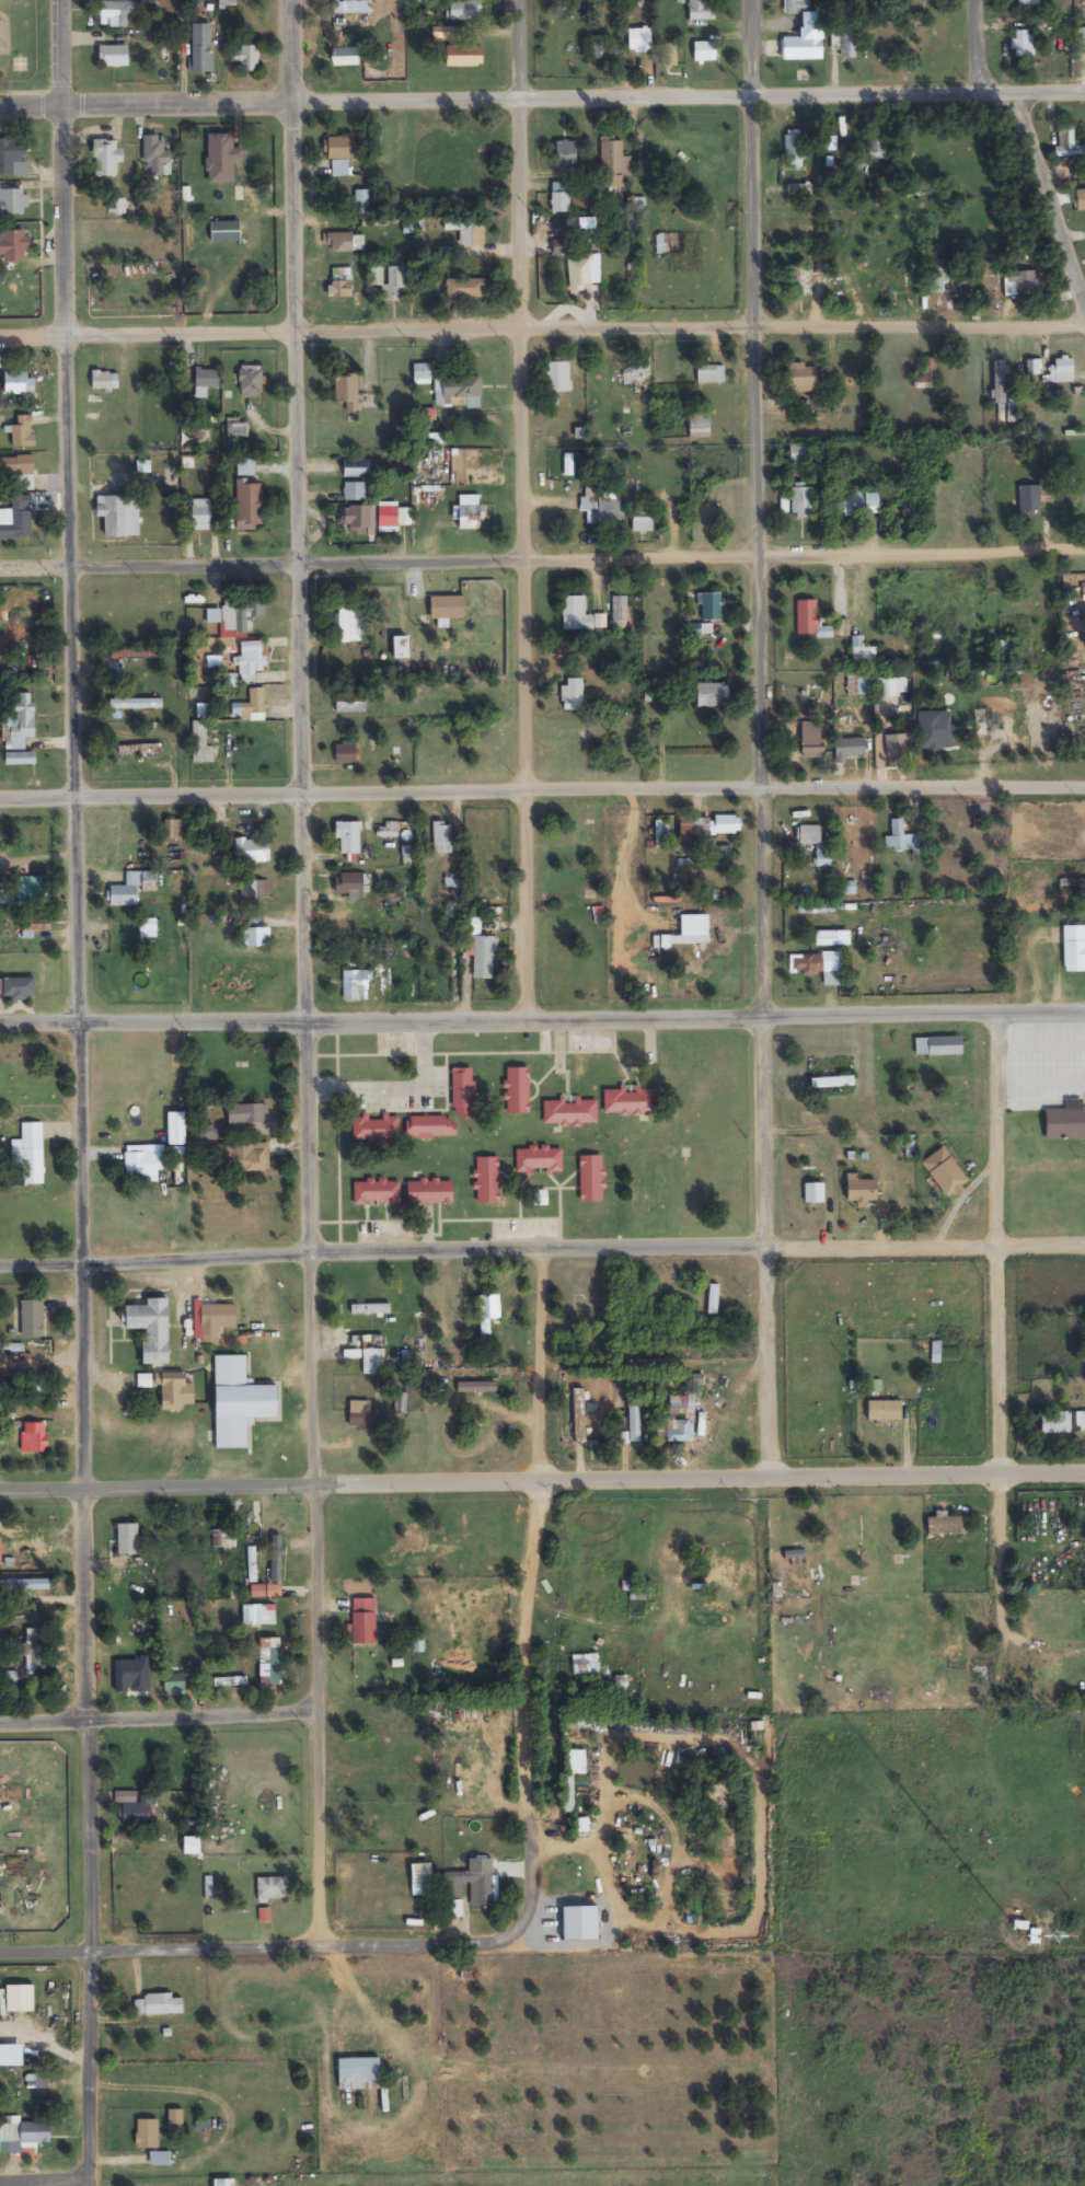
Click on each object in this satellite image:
building: (1029, 2)
building: (348, 7)
building: (464, 11)
building: (701, 11)
building: (114, 13)
building: (440, 33)
building: (804, 33)
building: (639, 41)
building: (1081, 43)
road: (976, 44)
building: (847, 45)
building: (1024, 45)
building: (598, 48)
building: (704, 53)
building: (113, 56)
building: (669, 57)
building: (346, 58)
building: (464, 58)
building: (201, 59)
building: (246, 59)
road: (542, 94)
building: (876, 143)
building: (1067, 143)
building: (794, 148)
building: (686, 150)
building: (566, 153)
building: (10, 155)
building: (155, 155)
building: (339, 155)
building: (106, 158)
building: (221, 159)
building: (612, 164)
road: (1049, 188)
building: (13, 201)
building: (360, 201)
building: (1081, 201)
building: (559, 203)
building: (117, 206)
building: (471, 236)
building: (16, 243)
building: (343, 243)
building: (561, 246)
building: (579, 273)
building: (376, 277)
building: (798, 280)
building: (1021, 282)
building: (340, 284)
building: (395, 284)
building: (465, 289)
road: (542, 328)
building: (1032, 367)
building: (1062, 370)
building: (635, 373)
building: (706, 374)
building: (422, 375)
building: (557, 377)
building: (799, 378)
building: (105, 380)
building: (205, 382)
building: (250, 382)
building: (1000, 382)
building: (19, 383)
building: (458, 392)
building: (353, 395)
building: (700, 425)
building: (23, 432)
building: (235, 435)
building: (435, 438)
building: (800, 459)
building: (245, 467)
building: (355, 469)
building: (21, 475)
building: (355, 491)
building: (1029, 499)
building: (801, 502)
building: (858, 504)
building: (249, 505)
road: (526, 508)
building: (602, 510)
building: (119, 514)
building: (200, 514)
building: (388, 517)
building: (358, 518)
building: (471, 518)
building: (16, 519)
building: (643, 519)
building: (673, 520)
road: (542, 555)
building: (711, 606)
building: (447, 609)
building: (236, 613)
building: (619, 613)
building: (575, 614)
building: (806, 617)
building: (350, 623)
building: (400, 648)
building: (1002, 650)
building: (862, 652)
building: (251, 658)
building: (858, 686)
building: (891, 687)
building: (712, 694)
building: (572, 695)
building: (350, 703)
building: (135, 704)
building: (251, 708)
building: (204, 710)
building: (19, 720)
building: (978, 727)
road: (761, 737)
building: (811, 741)
building: (200, 744)
building: (897, 748)
building: (850, 749)
building: (139, 750)
building: (346, 753)
road: (542, 791)
building: (726, 824)
building: (695, 828)
building: (173, 831)
building: (847, 833)
building: (896, 836)
building: (442, 837)
building: (348, 841)
building: (813, 845)
building: (117, 846)
building: (252, 851)
building: (149, 881)
building: (349, 884)
building: (847, 888)
building: (31, 890)
building: (253, 890)
building: (123, 895)
building: (28, 927)
building: (148, 928)
building: (253, 938)
building: (828, 938)
building: (1074, 947)
building: (481, 951)
building: (435, 968)
road: (307, 972)
building: (355, 981)
building: (19, 987)
road: (542, 1016)
building: (936, 1046)
building: (461, 1091)
building: (517, 1091)
road: (95, 1092)
building: (630, 1102)
building: (570, 1113)
building: (247, 1117)
building: (1065, 1121)
building: (376, 1129)
building: (27, 1155)
building: (250, 1158)
building: (539, 1160)
building: (143, 1161)
building: (944, 1171)
building: (590, 1179)
building: (487, 1180)
building: (861, 1189)
building: (376, 1192)
building: (429, 1192)
building: (812, 1194)
building: (21, 1200)
road: (542, 1252)
building: (587, 1307)
building: (370, 1309)
building: (439, 1317)
building: (31, 1318)
building: (216, 1319)
road: (995, 1322)
building: (152, 1329)
building: (372, 1362)
building: (176, 1392)
building: (239, 1403)
building: (400, 1404)
building: (885, 1411)
building: (362, 1418)
building: (634, 1422)
building: (678, 1422)
building: (1057, 1423)
building: (1081, 1423)
building: (588, 1430)
building: (36, 1442)
road: (542, 1478)
road: (651, 1499)
building: (944, 1526)
building: (413, 1538)
building: (223, 1539)
building: (127, 1540)
building: (25, 1554)
building: (794, 1559)
building: (276, 1560)
building: (252, 1564)
building: (727, 1571)
building: (24, 1585)
road: (520, 1593)
building: (258, 1616)
building: (363, 1622)
building: (131, 1633)
building: (30, 1643)
building: (270, 1661)
building: (11, 1676)
building: (174, 1684)
building: (229, 1684)
road: (158, 1722)
building: (137, 1812)
building: (470, 1887)
building: (272, 1889)
road: (259, 1946)
building: (20, 1998)
building: (158, 2005)
building: (359, 2073)
building: (175, 2117)
building: (24, 2131)
building: (147, 2133)
building: (160, 2159)
road: (44, 2183)

